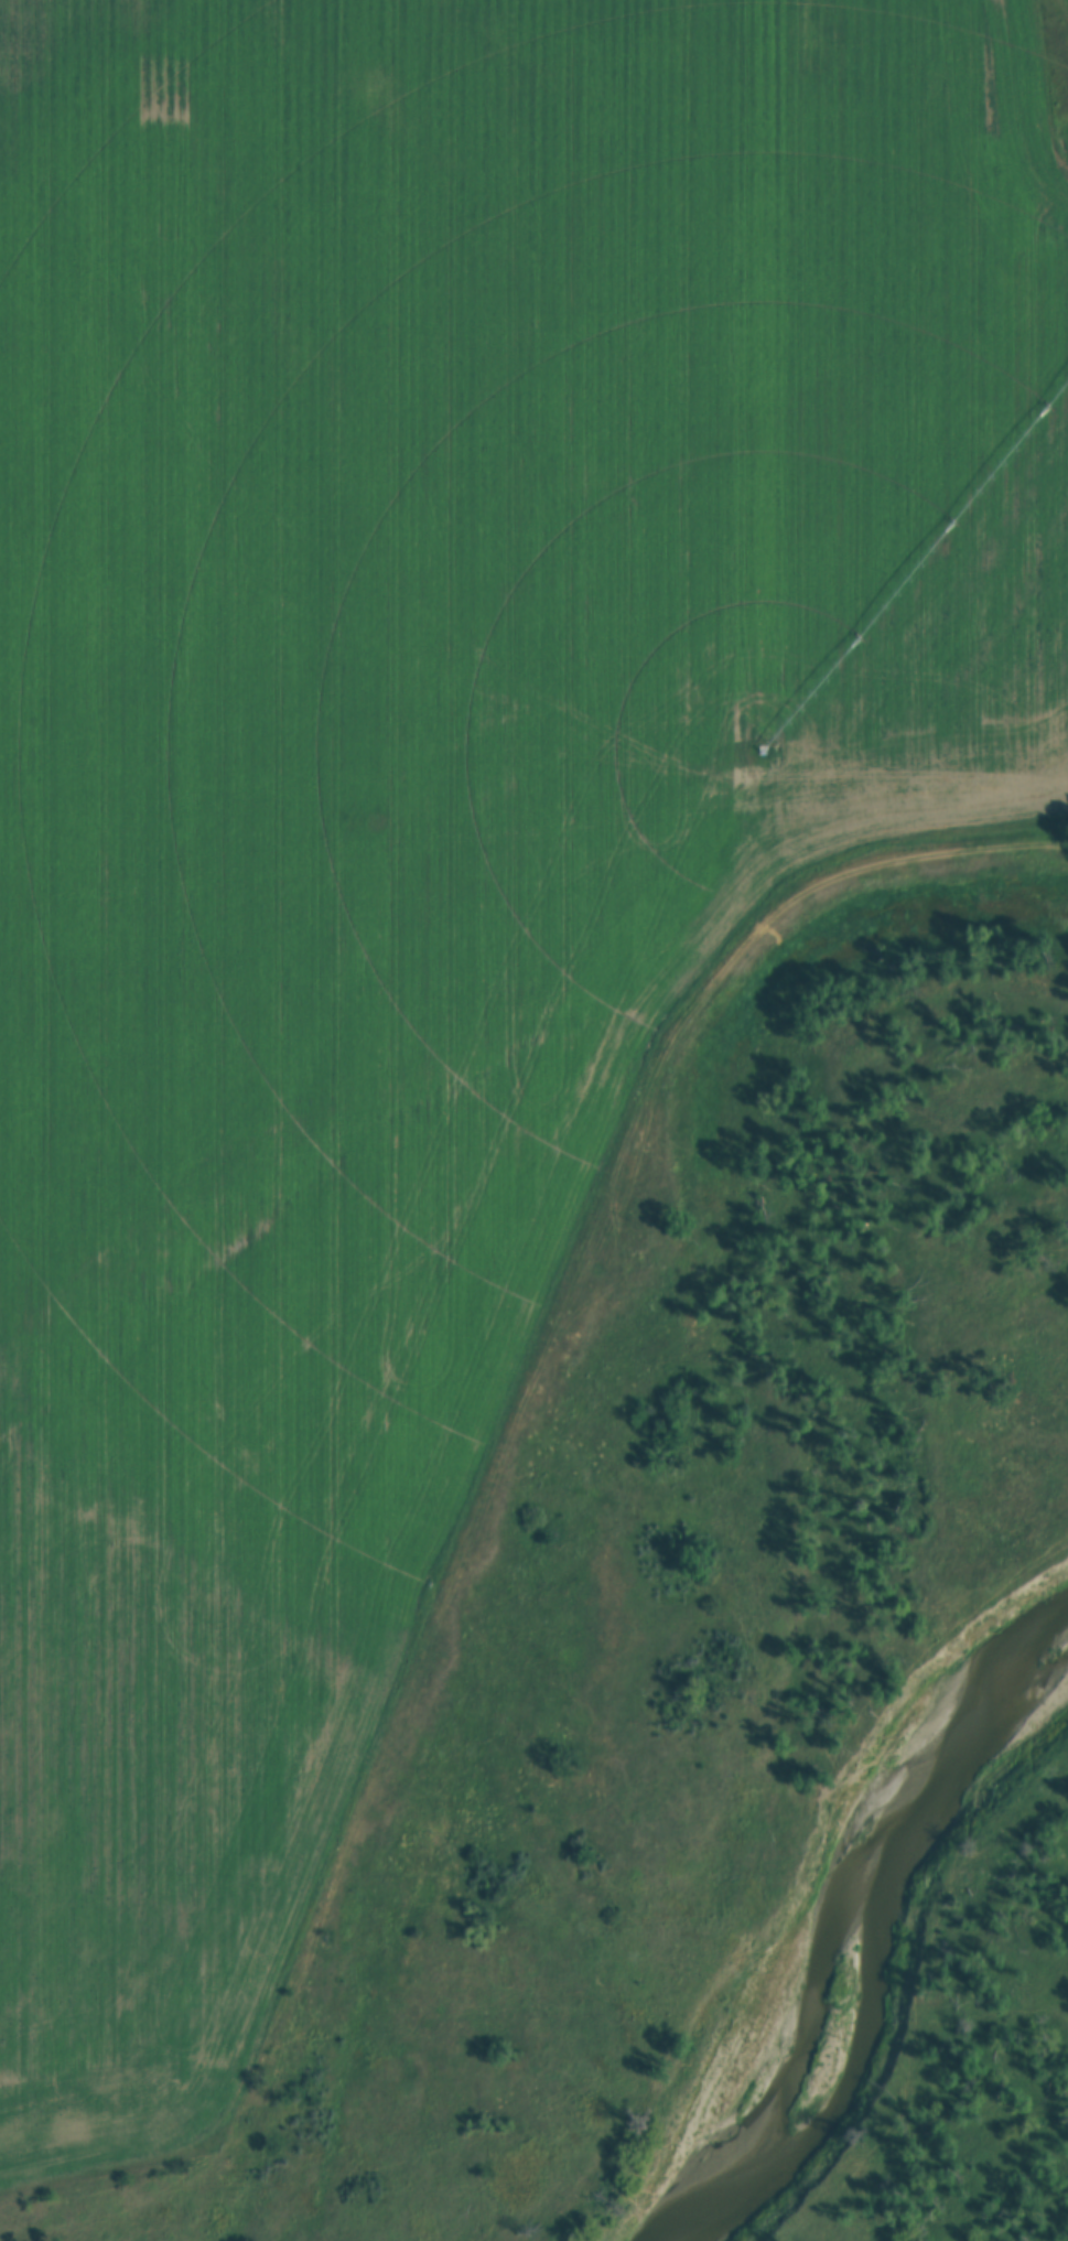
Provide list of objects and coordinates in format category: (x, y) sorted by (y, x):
road: (748, 901)

